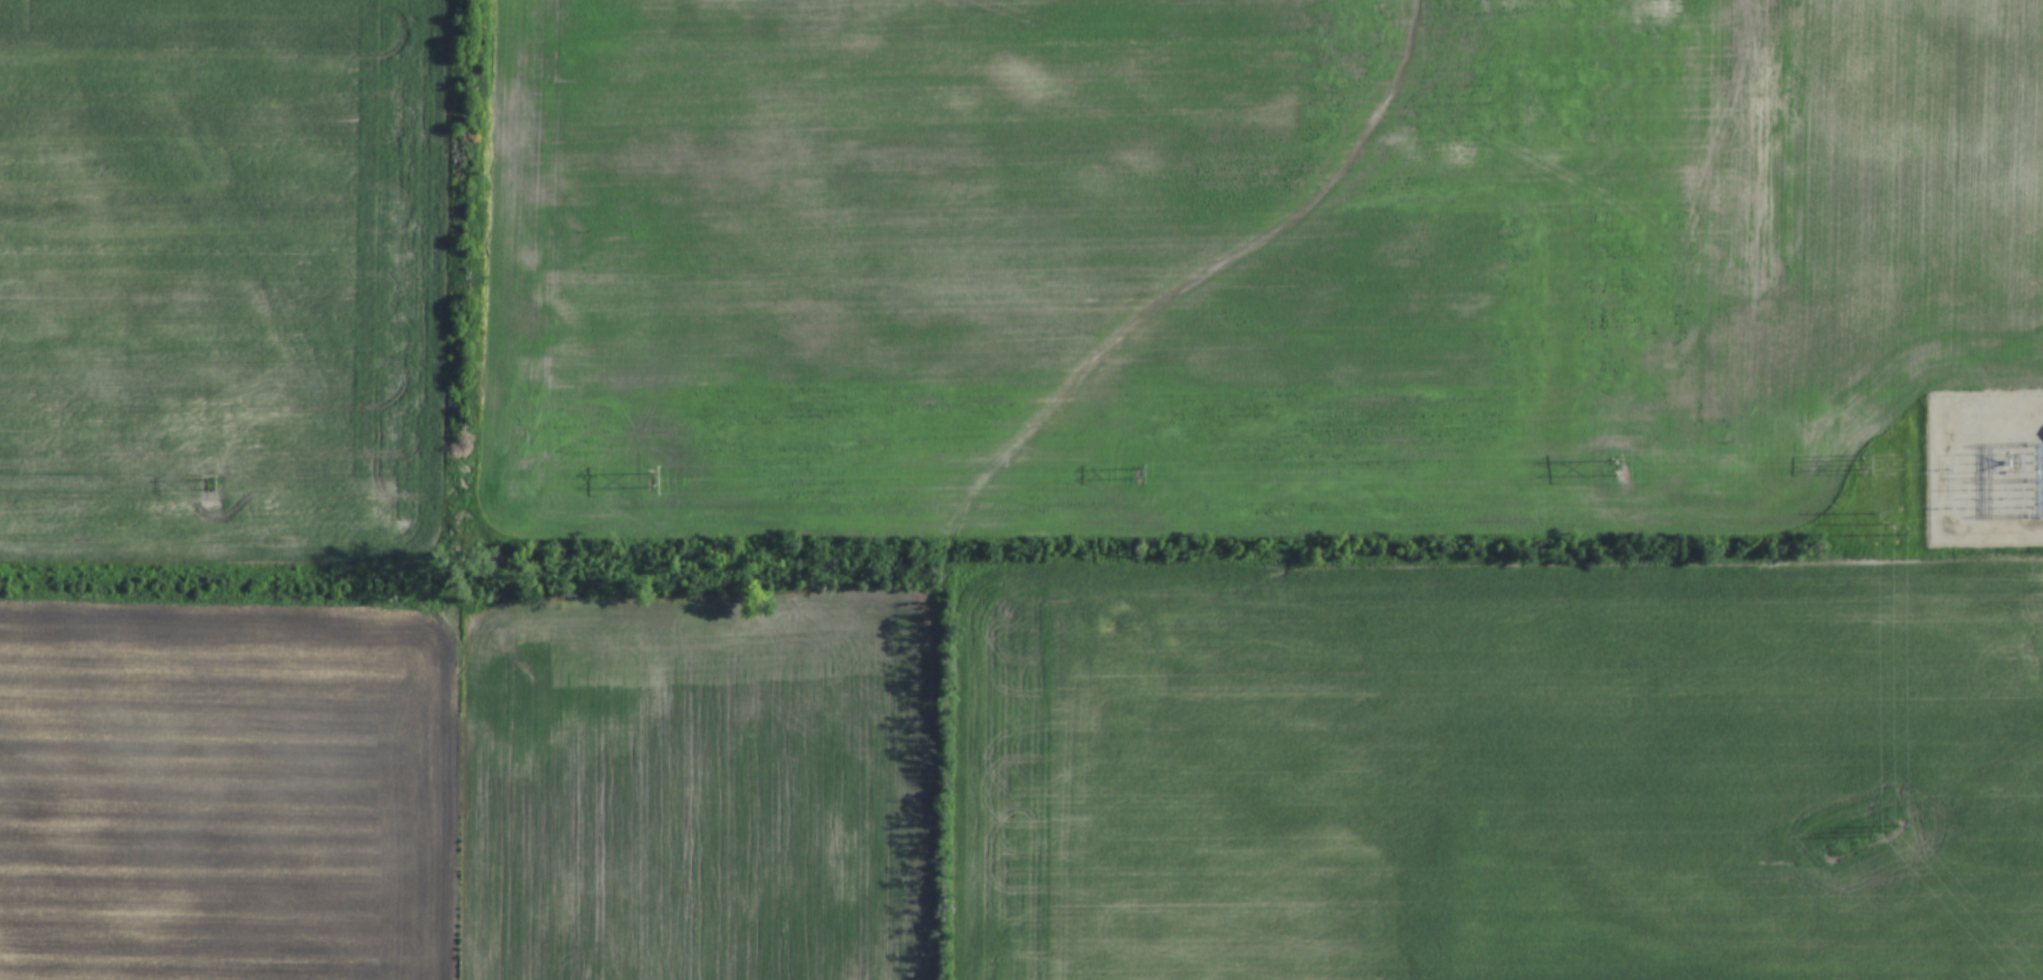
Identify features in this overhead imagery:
power tower: (1860, 464)
power tower: (1618, 467)
power substation: (1986, 467)
power tower: (1137, 474)
power tower: (654, 481)
power tower: (212, 486)
power tower: (1884, 521)
power tower: (1884, 826)

